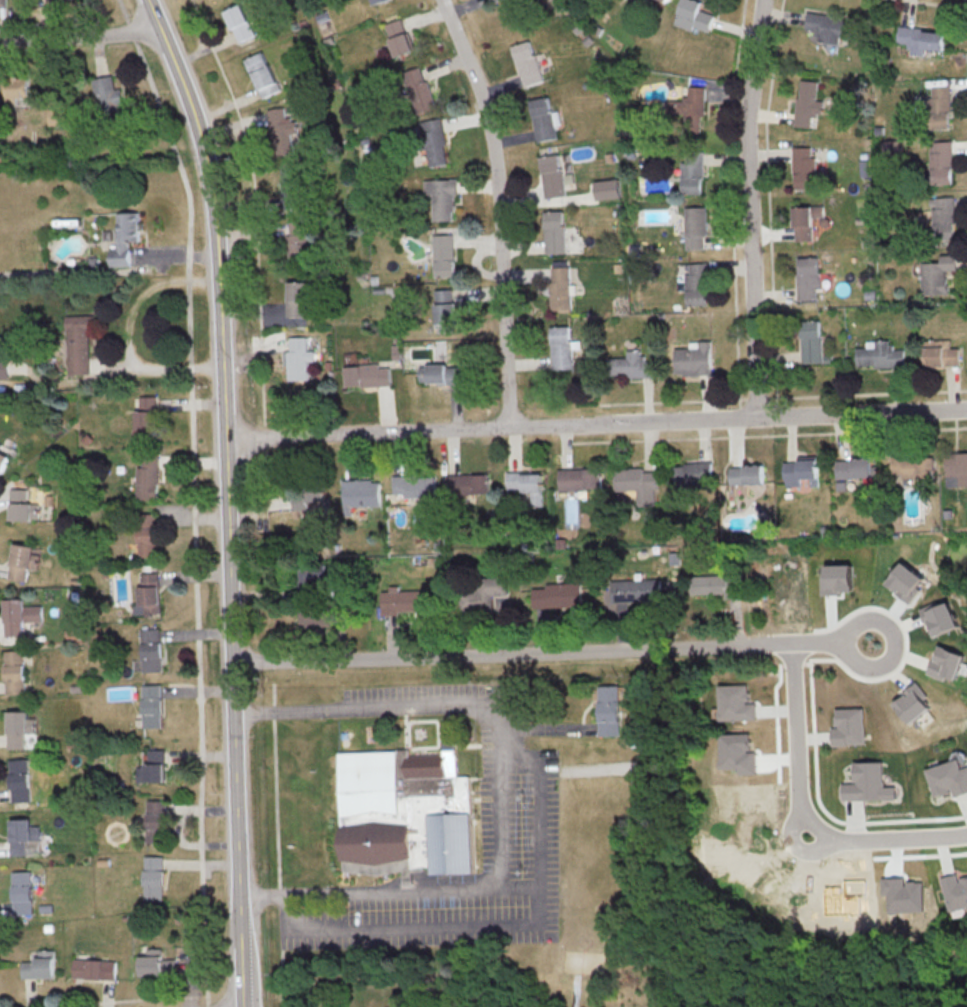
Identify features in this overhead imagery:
building: (56, 1)
building: (374, 1)
building: (495, 1)
building: (659, 2)
building: (3, 4)
building: (693, 16)
building: (239, 23)
building: (828, 26)
road: (79, 36)
building: (398, 37)
building: (921, 39)
building: (526, 63)
building: (262, 74)
building: (417, 90)
building: (20, 95)
building: (806, 102)
building: (107, 104)
building: (939, 107)
building: (688, 109)
building: (544, 118)
building: (59, 120)
building: (281, 129)
building: (434, 142)
building: (889, 149)
building: (3, 157)
building: (940, 161)
building: (803, 168)
building: (691, 173)
building: (554, 176)
building: (292, 184)
building: (607, 189)
building: (441, 198)
road: (748, 208)
road: (497, 209)
building: (942, 217)
building: (802, 223)
building: (694, 227)
building: (554, 232)
building: (297, 240)
building: (125, 243)
building: (443, 255)
building: (936, 275)
building: (807, 277)
building: (696, 284)
building: (559, 290)
building: (296, 298)
building: (445, 310)
road: (127, 330)
building: (810, 341)
building: (79, 347)
building: (878, 354)
building: (941, 355)
building: (298, 357)
building: (693, 359)
building: (629, 365)
building: (4, 368)
building: (440, 374)
building: (366, 375)
building: (145, 418)
road: (595, 423)
building: (3, 460)
building: (912, 465)
building: (853, 468)
building: (956, 469)
building: (799, 470)
building: (688, 473)
building: (745, 474)
building: (578, 478)
building: (146, 480)
building: (466, 483)
building: (638, 484)
building: (413, 485)
building: (527, 485)
building: (359, 494)
building: (309, 497)
road: (225, 498)
building: (21, 505)
building: (146, 534)
building: (22, 560)
building: (838, 579)
building: (906, 582)
building: (718, 585)
building: (634, 590)
building: (148, 594)
building: (483, 594)
building: (557, 595)
building: (404, 600)
building: (19, 615)
building: (314, 616)
building: (941, 617)
building: (150, 649)
road: (555, 651)
building: (947, 663)
building: (14, 672)
building: (735, 703)
building: (913, 703)
building: (151, 705)
road: (395, 705)
building: (608, 710)
building: (848, 727)
building: (19, 728)
road: (521, 760)
building: (152, 766)
building: (948, 778)
building: (20, 779)
building: (864, 782)
road: (804, 817)
building: (409, 818)
building: (155, 821)
building: (25, 837)
building: (153, 877)
road: (464, 890)
building: (22, 892)
building: (955, 892)
road: (296, 894)
road: (402, 922)
building: (156, 964)
building: (38, 968)
building: (94, 969)

